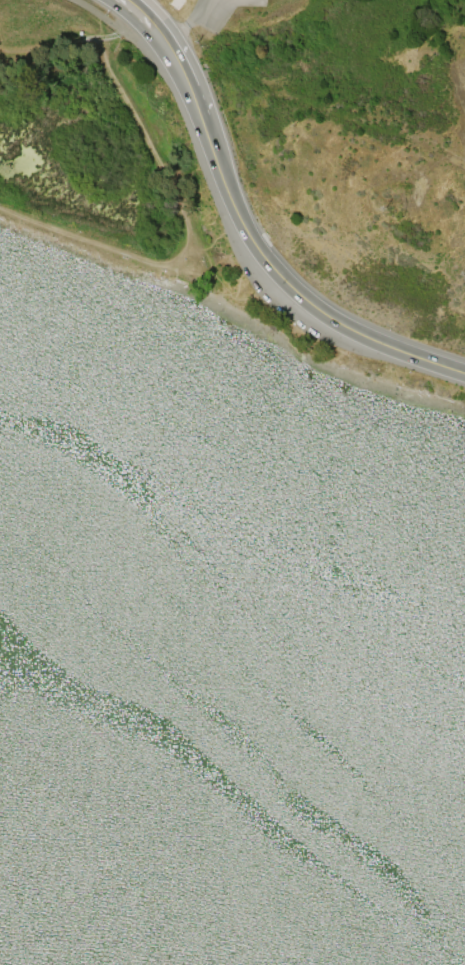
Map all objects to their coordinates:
road: (150, 26)
road: (121, 30)
road: (62, 48)
road: (284, 93)
park: (98, 143)
road: (176, 215)
road: (260, 253)
road: (451, 368)

